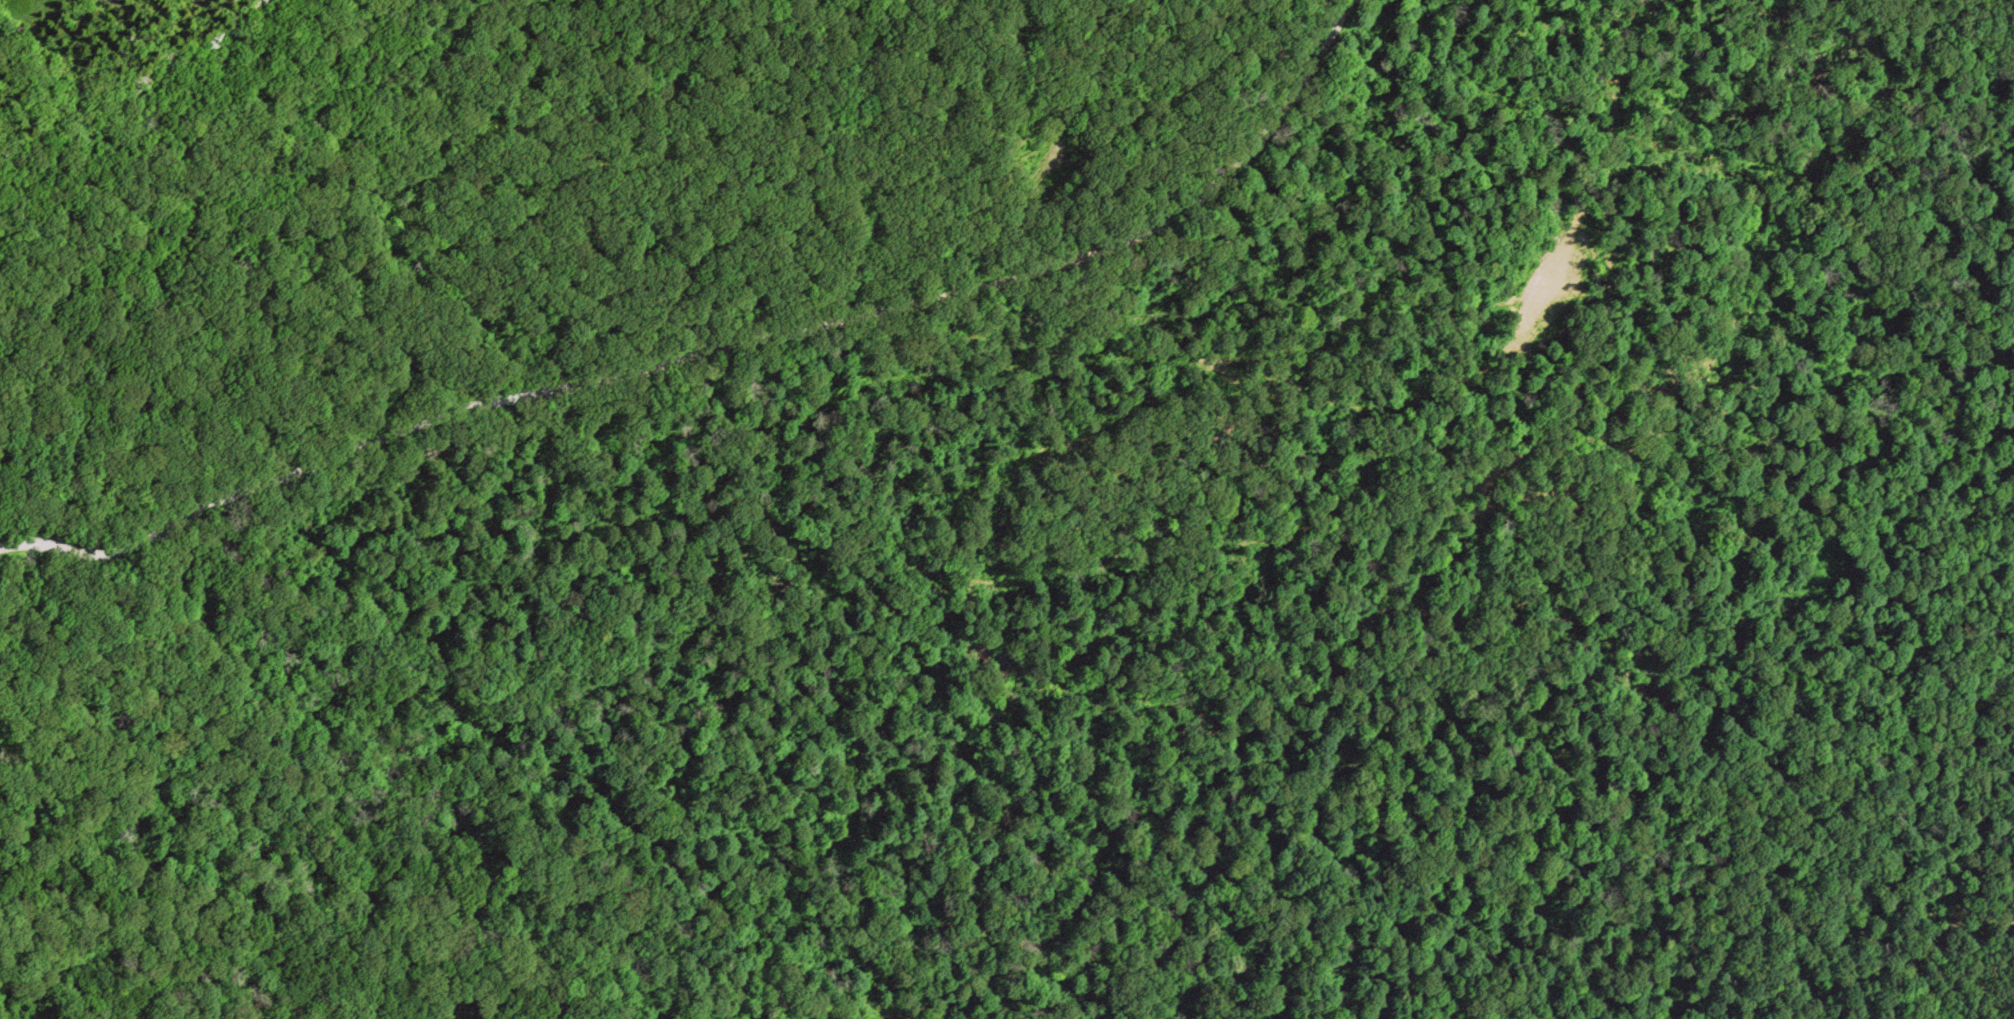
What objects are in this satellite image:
road: (720, 349)

